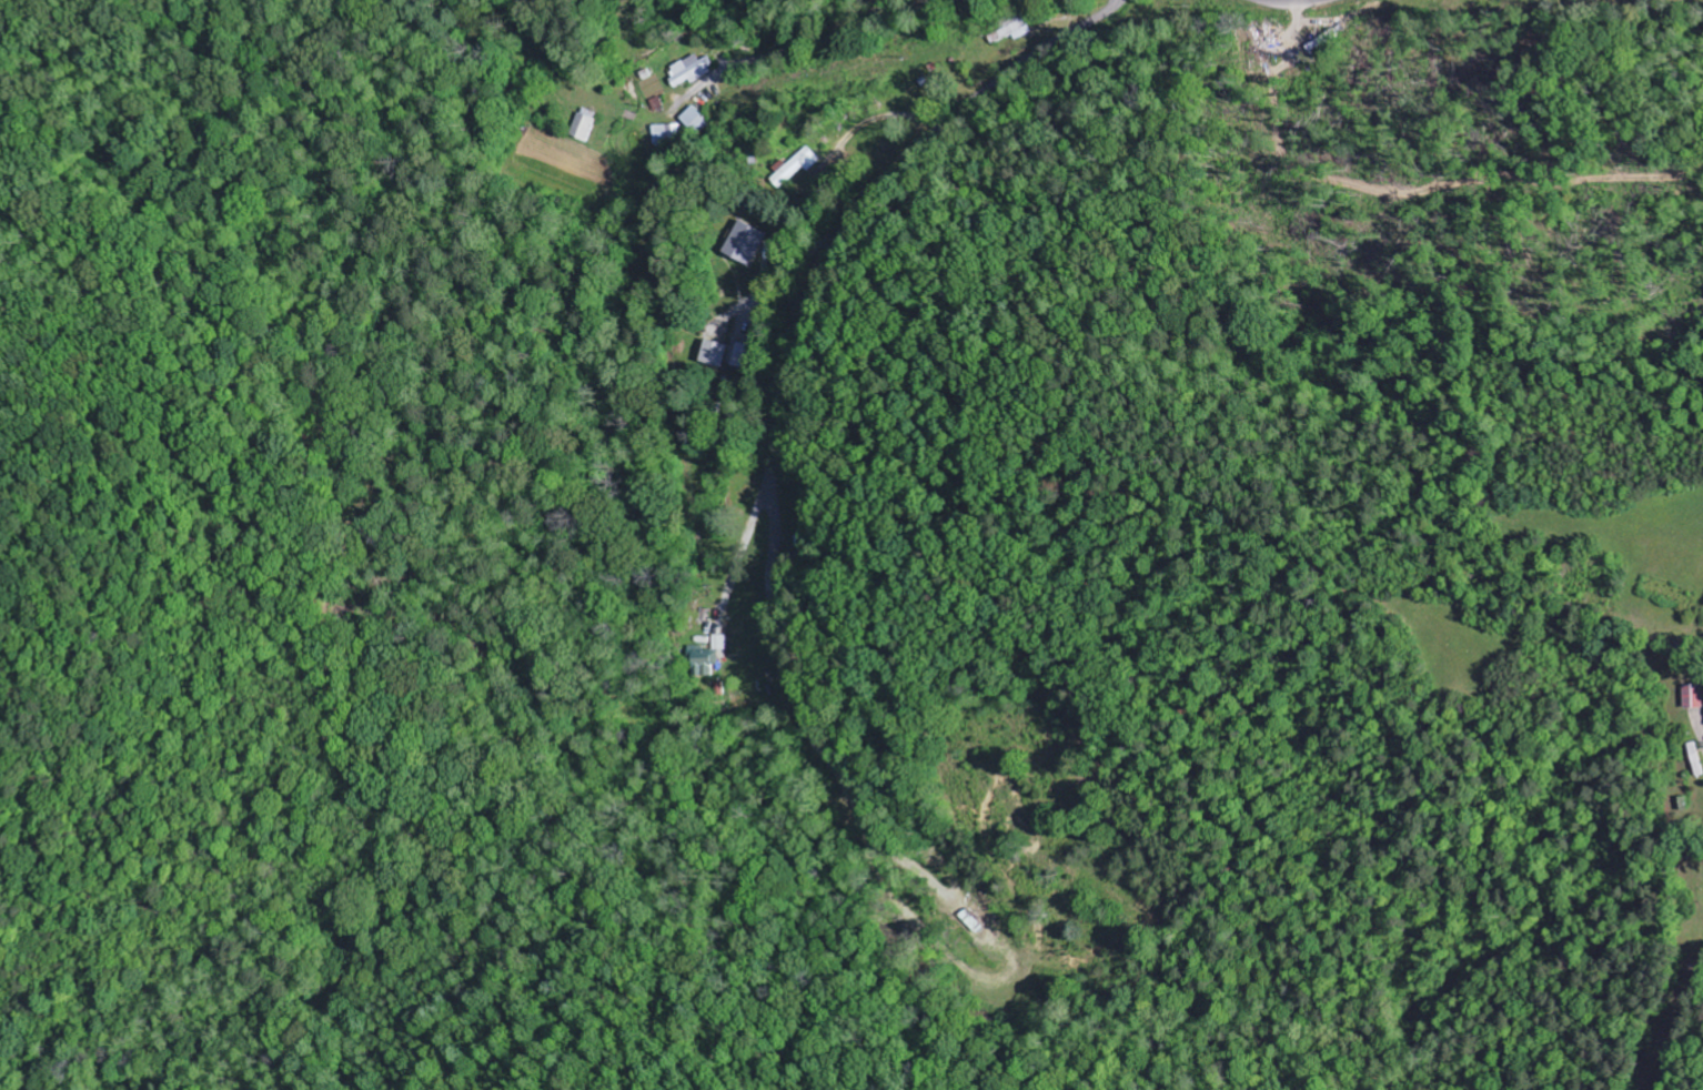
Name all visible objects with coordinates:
road: (1286, 1)
road: (834, 36)
building: (688, 71)
building: (694, 121)
building: (582, 127)
building: (665, 134)
building: (797, 168)
road: (846, 224)
building: (746, 244)
building: (713, 354)
building: (744, 356)
building: (705, 658)
building: (1691, 697)

